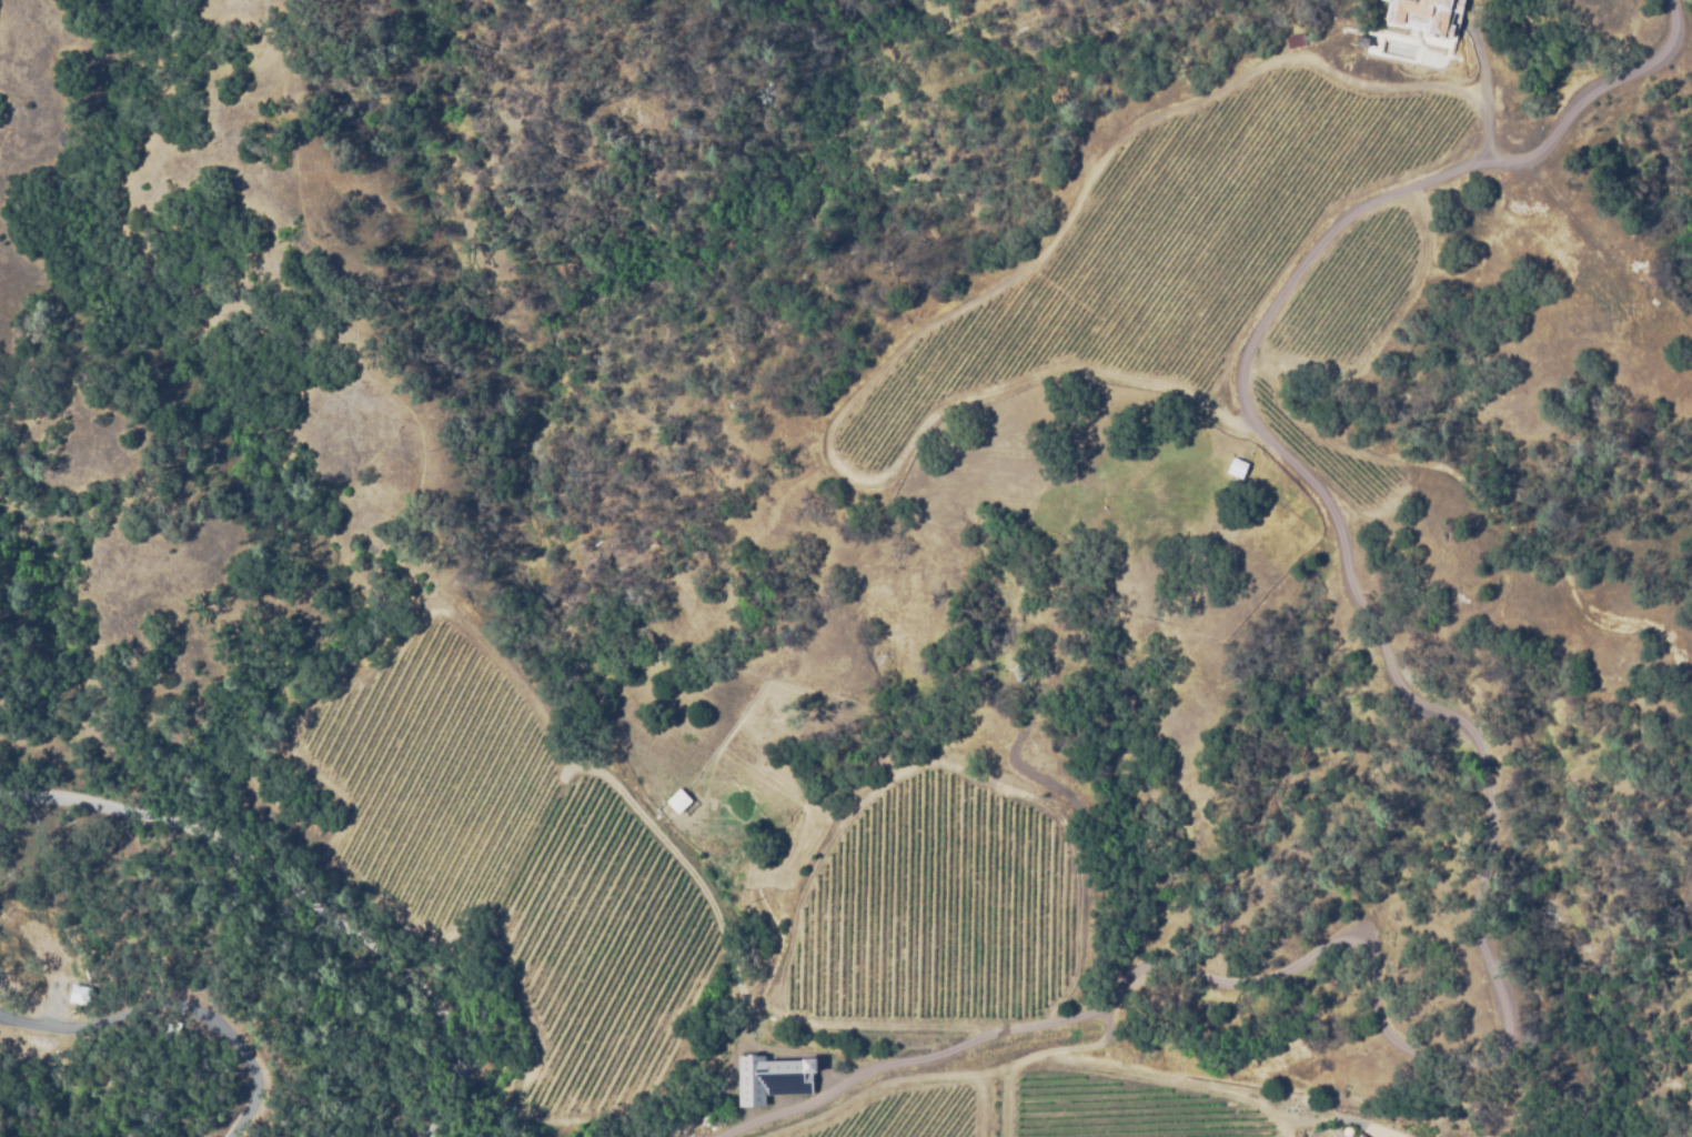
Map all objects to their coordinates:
road: (1690, 6)
building: (1420, 16)
road: (1489, 781)
road: (281, 874)
building: (80, 994)
road: (180, 999)
building: (766, 1077)
road: (784, 1111)
road: (434, 1114)
building: (1346, 1131)
building: (1363, 1134)
building: (1357, 1135)

